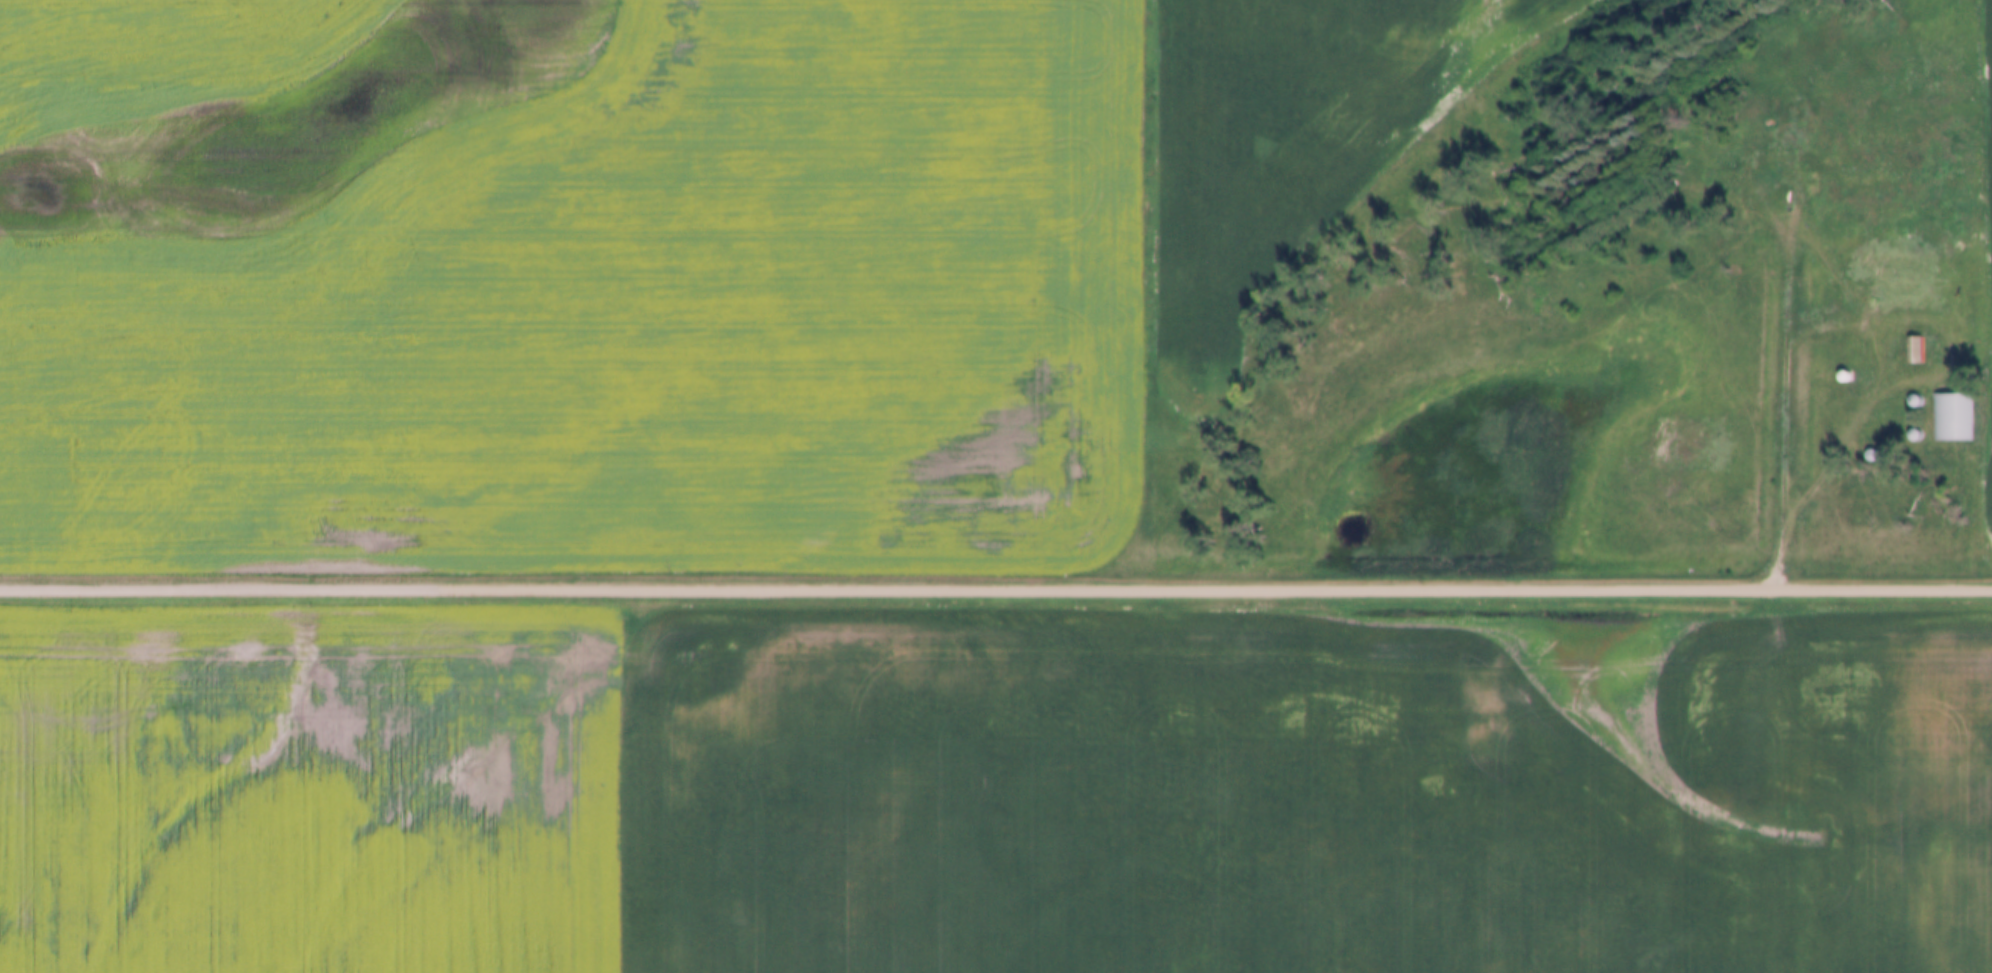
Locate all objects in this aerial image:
building: (1900, 285)
road: (1785, 408)
building: (1952, 415)
road: (996, 589)

